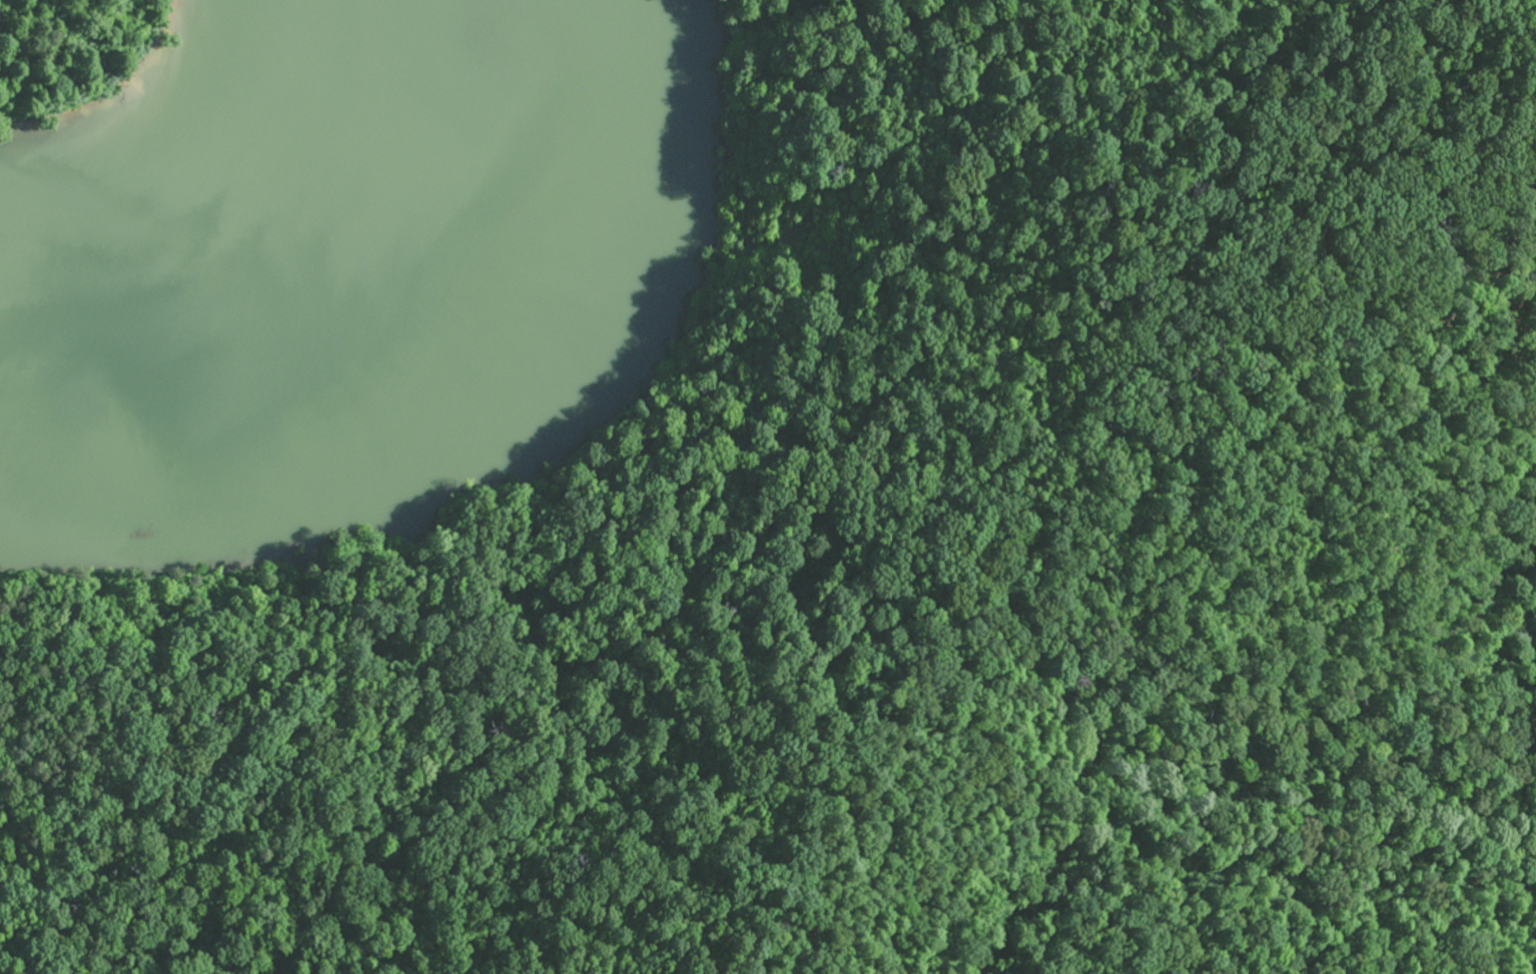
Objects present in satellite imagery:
river: (311, 291)
park: (1156, 367)

